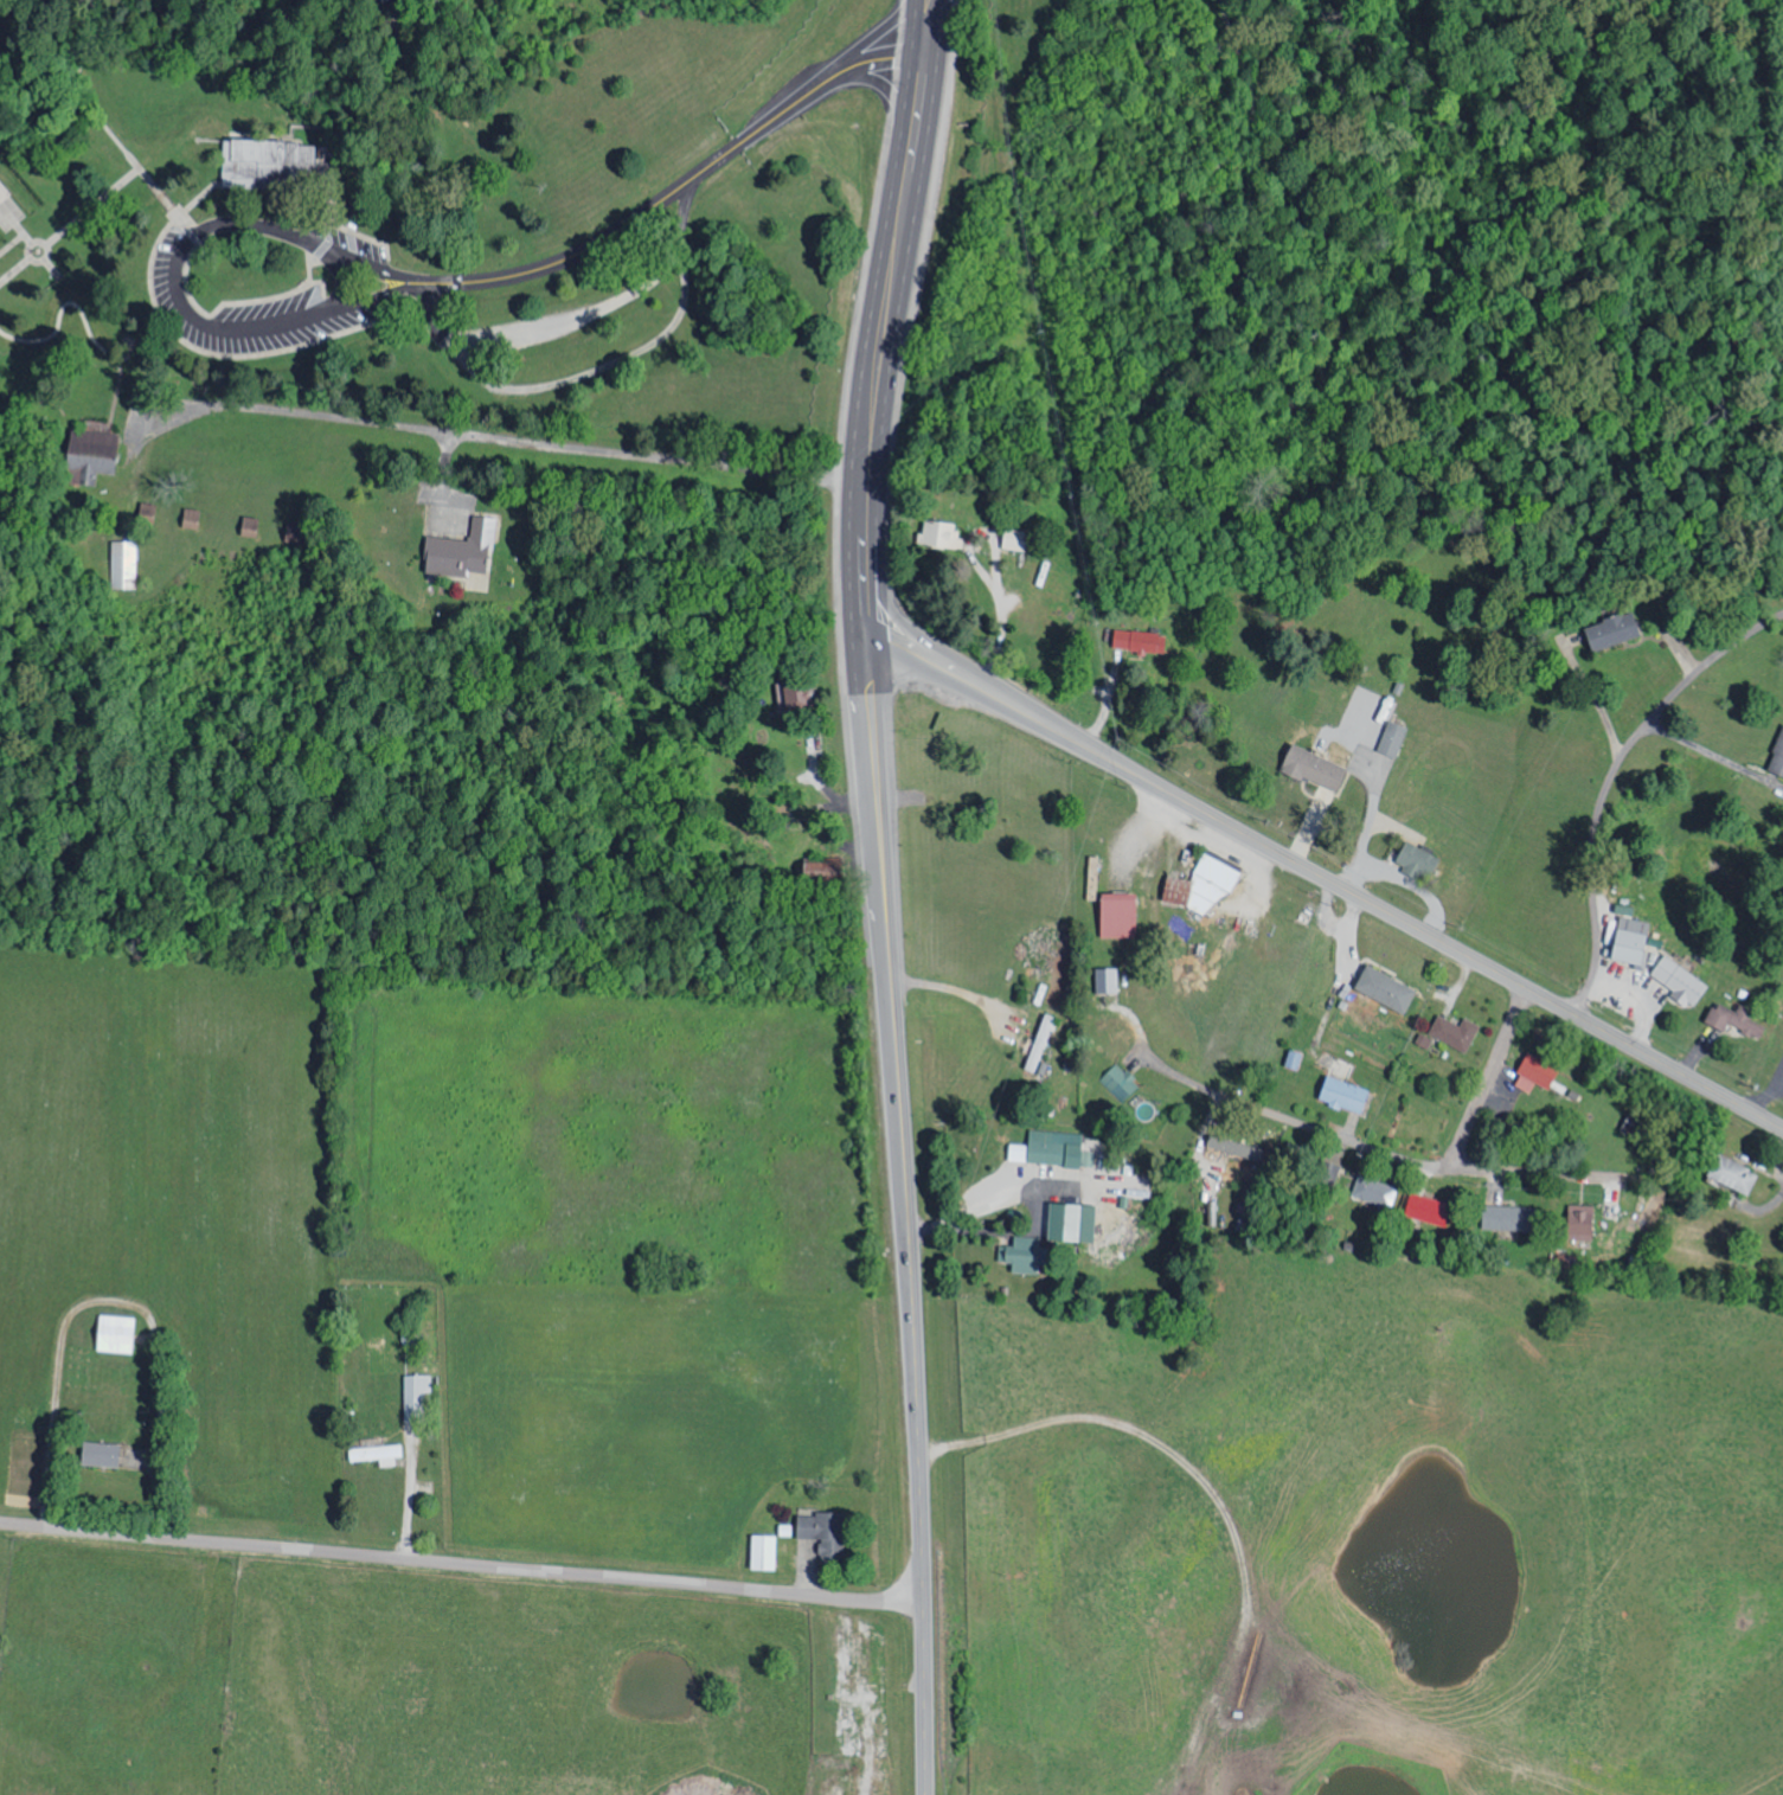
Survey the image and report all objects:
road: (934, 18)
road: (334, 79)
road: (924, 104)
road: (95, 118)
building: (254, 162)
road: (127, 178)
road: (687, 182)
road: (325, 219)
road: (24, 235)
road: (37, 241)
park: (939, 241)
parking lot: (342, 243)
road: (12, 244)
flagpole: (38, 252)
road: (51, 269)
road: (14, 270)
road: (171, 274)
road: (344, 280)
road: (84, 315)
parking lot: (257, 315)
road: (573, 320)
road: (1325, 326)
parking lot: (575, 338)
road: (135, 339)
road: (193, 350)
road: (880, 353)
road: (598, 371)
road: (494, 438)
building: (88, 454)
road: (445, 483)
building: (145, 513)
building: (188, 519)
building: (248, 527)
building: (943, 531)
building: (291, 534)
building: (1018, 538)
building: (460, 552)
building: (123, 566)
road: (867, 590)
building: (1615, 630)
building: (1142, 640)
road: (872, 646)
road: (870, 693)
building: (793, 694)
building: (1394, 737)
building: (1778, 758)
building: (1317, 767)
road: (880, 812)
building: (1419, 859)
road: (1332, 883)
building: (1204, 885)
building: (1122, 915)
building: (1634, 940)
building: (1109, 979)
building: (1681, 980)
building: (1388, 987)
building: (1738, 1018)
building: (1457, 1031)
building: (1043, 1041)
building: (1539, 1072)
road: (1487, 1079)
building: (1120, 1083)
building: (1347, 1094)
road: (1307, 1127)
building: (1237, 1147)
building: (1054, 1148)
building: (1736, 1173)
road: (1532, 1174)
building: (1377, 1191)
building: (1431, 1204)
building: (1512, 1218)
building: (1585, 1222)
building: (1053, 1236)
road: (911, 1242)
building: (117, 1333)
building: (417, 1393)
building: (103, 1454)
building: (379, 1454)
building: (826, 1528)
building: (767, 1552)
road: (462, 1563)
road: (926, 1697)

